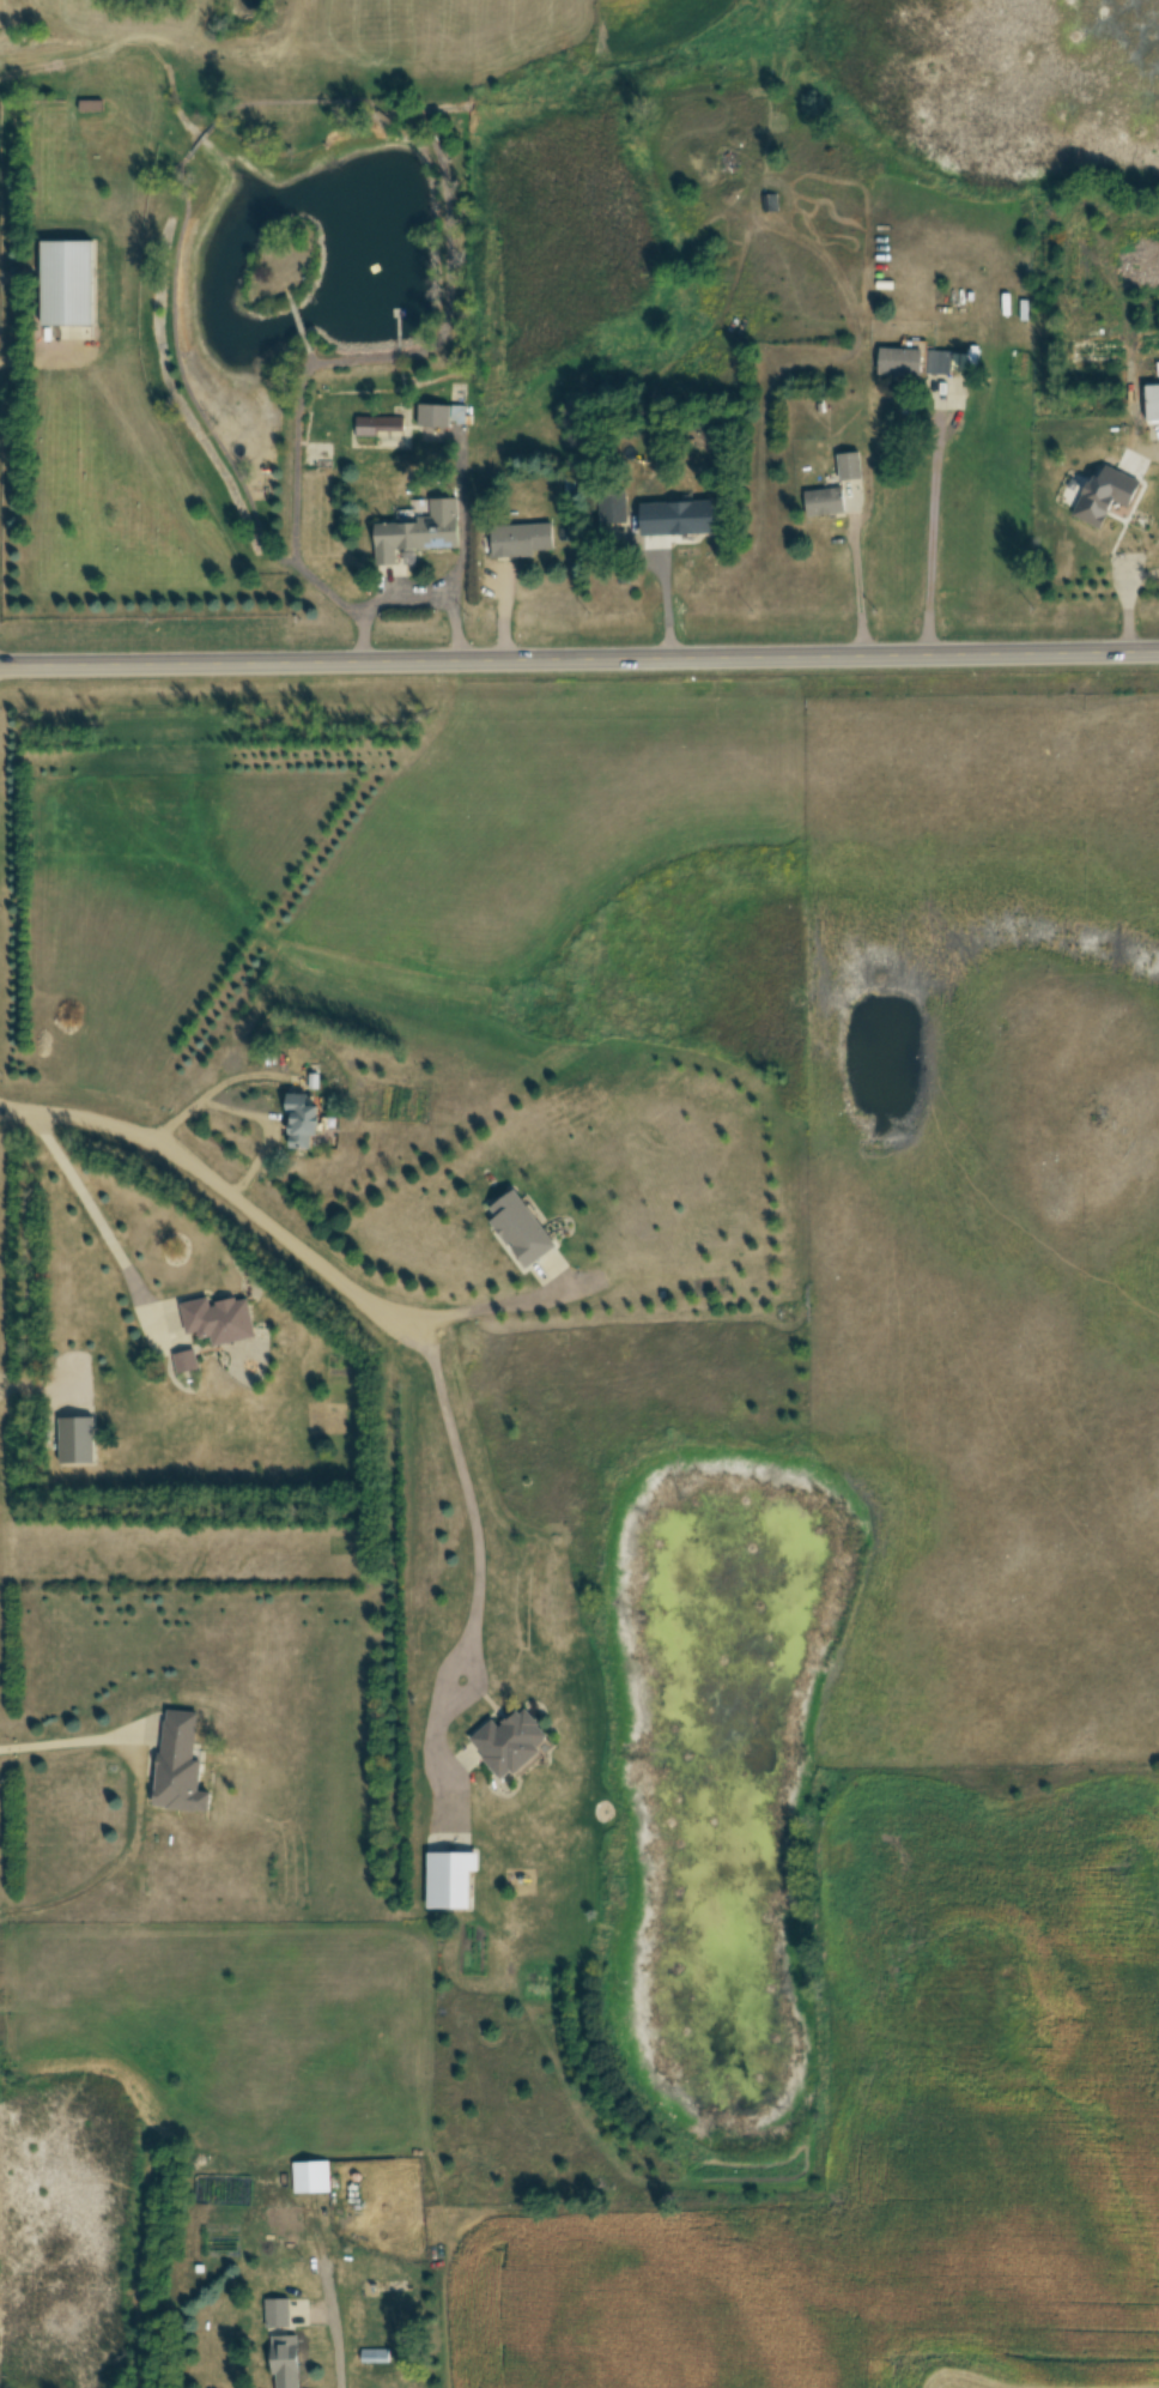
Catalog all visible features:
building: (91, 105)
building: (772, 204)
building: (69, 284)
building: (918, 363)
building: (1153, 403)
building: (436, 416)
building: (380, 425)
building: (851, 466)
building: (826, 502)
building: (613, 507)
building: (685, 522)
building: (420, 533)
road: (932, 534)
building: (1145, 537)
building: (524, 540)
road: (857, 586)
road: (411, 592)
road: (670, 597)
road: (579, 664)
road: (208, 1093)
building: (305, 1119)
road: (267, 1129)
road: (219, 1187)
road: (101, 1216)
building: (523, 1228)
road: (512, 1308)
building: (222, 1319)
building: (187, 1360)
road: (41, 1385)
building: (78, 1439)
road: (477, 1583)
building: (514, 1741)
road: (77, 1742)
building: (182, 1765)
building: (449, 1874)
crop: (909, 2129)
building: (315, 2177)
building: (280, 2244)
building: (279, 2313)
road: (338, 2347)
building: (287, 2362)

